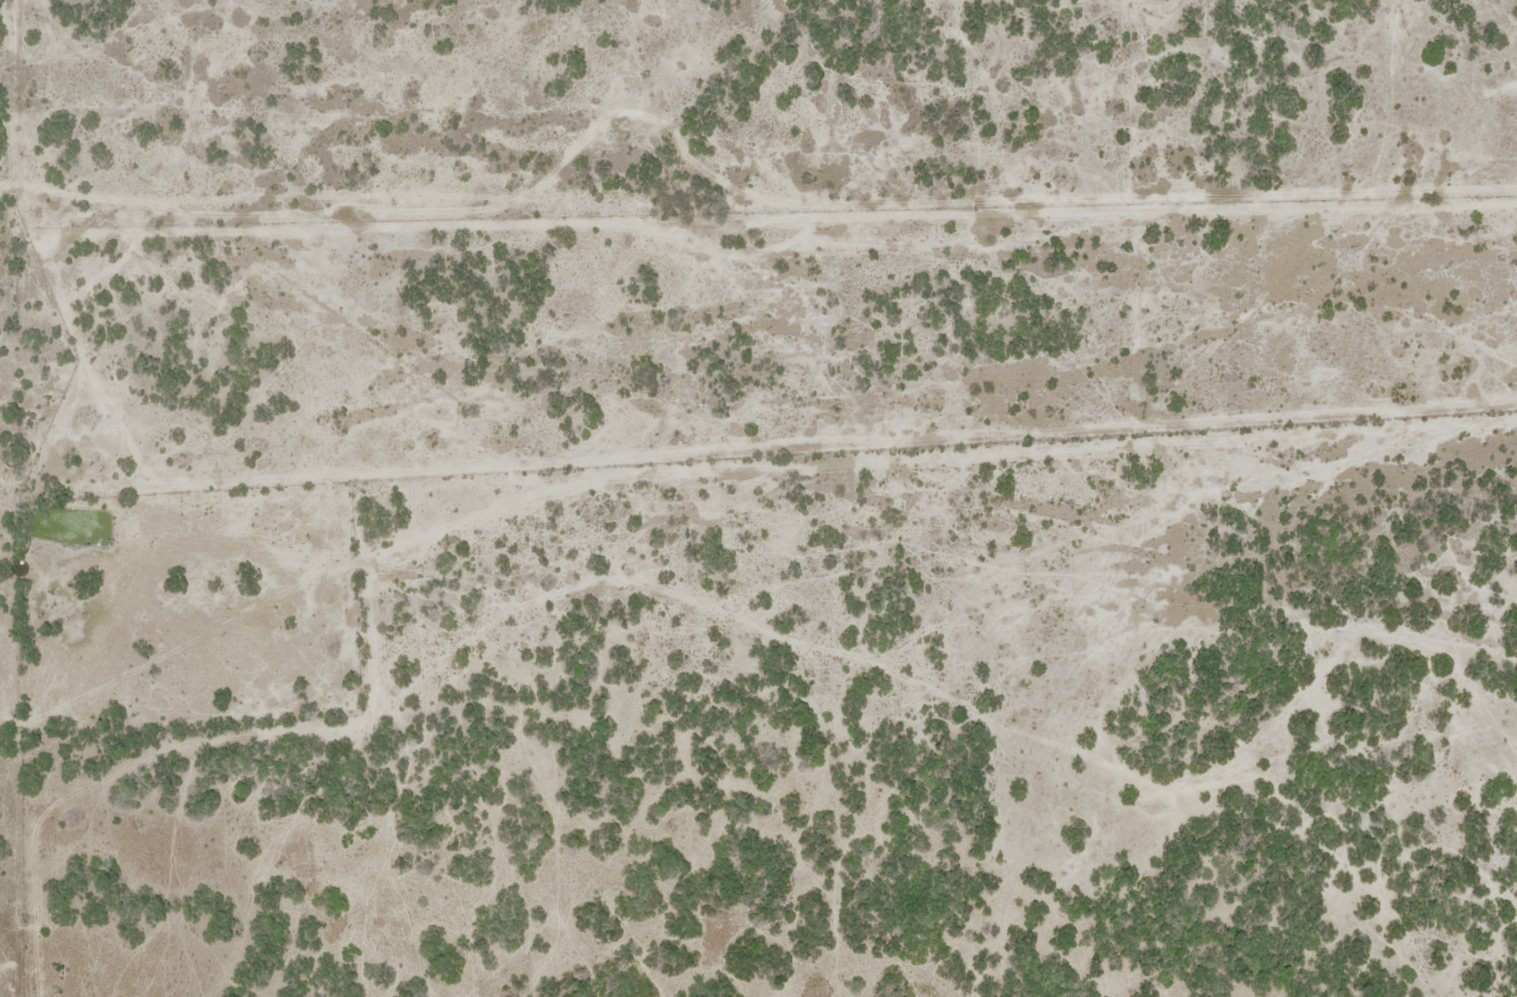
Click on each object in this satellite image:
road: (3, 9)

